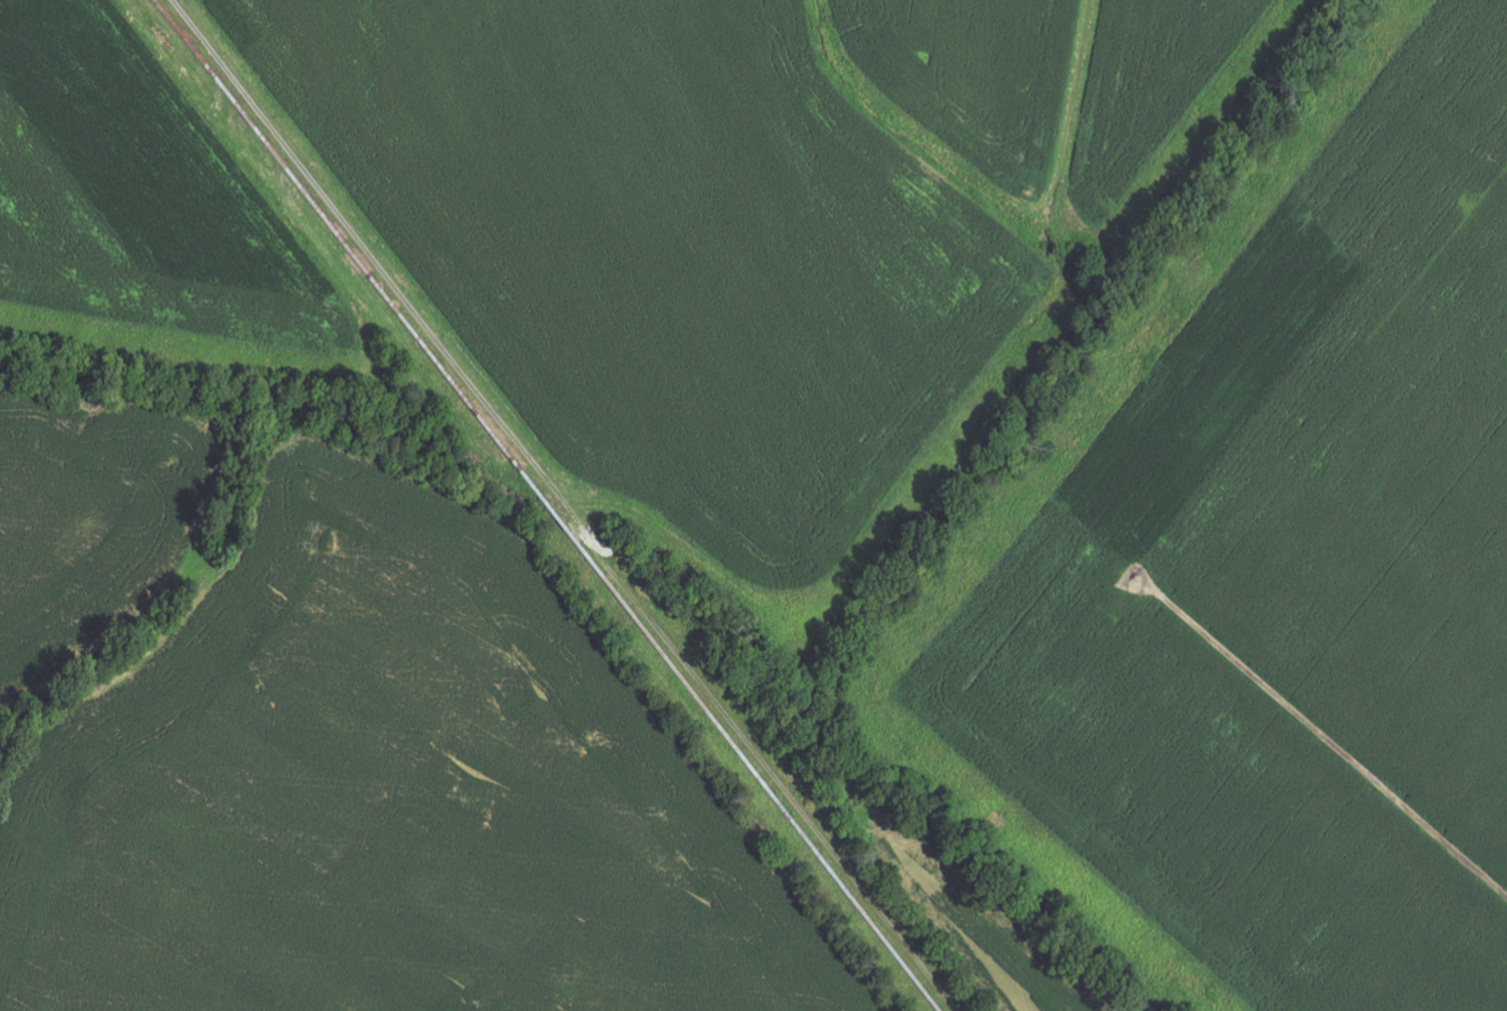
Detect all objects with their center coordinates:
road: (1347, 745)

